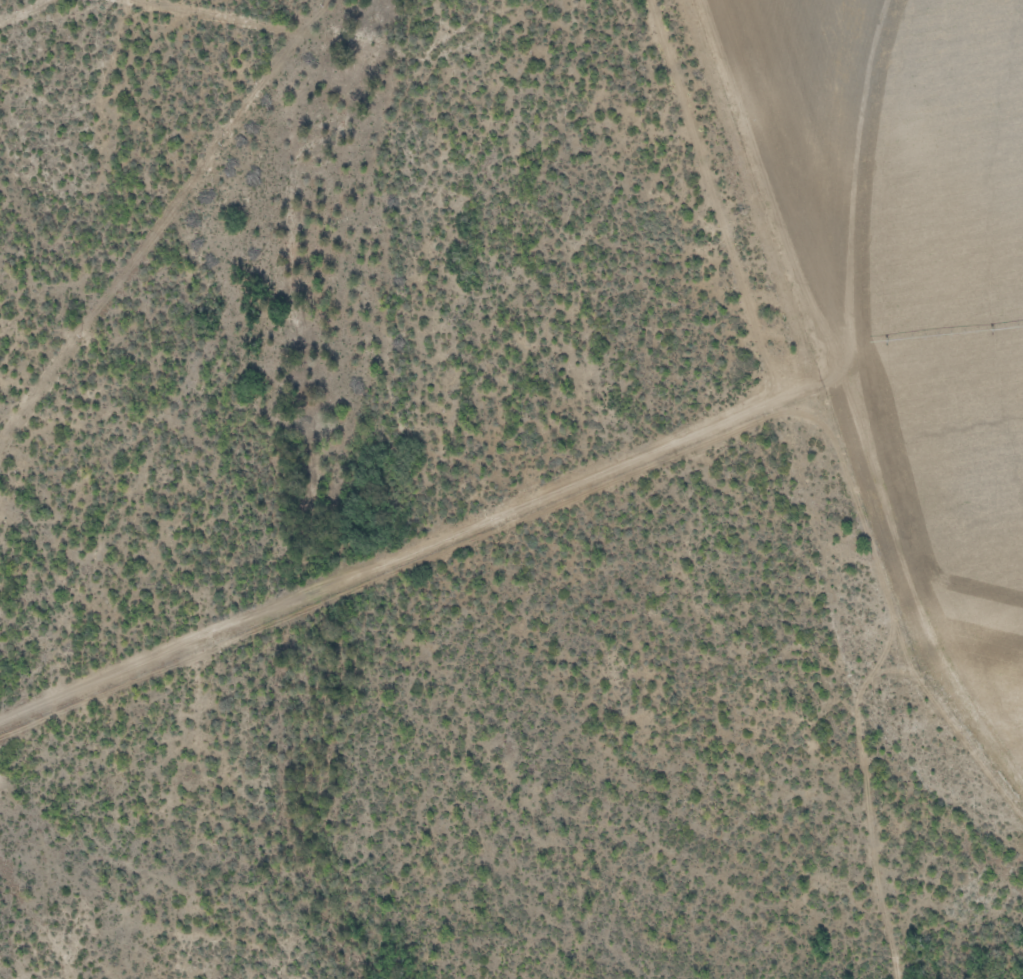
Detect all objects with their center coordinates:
road: (27, 10)
road: (332, 38)
road: (809, 482)
road: (43, 921)

